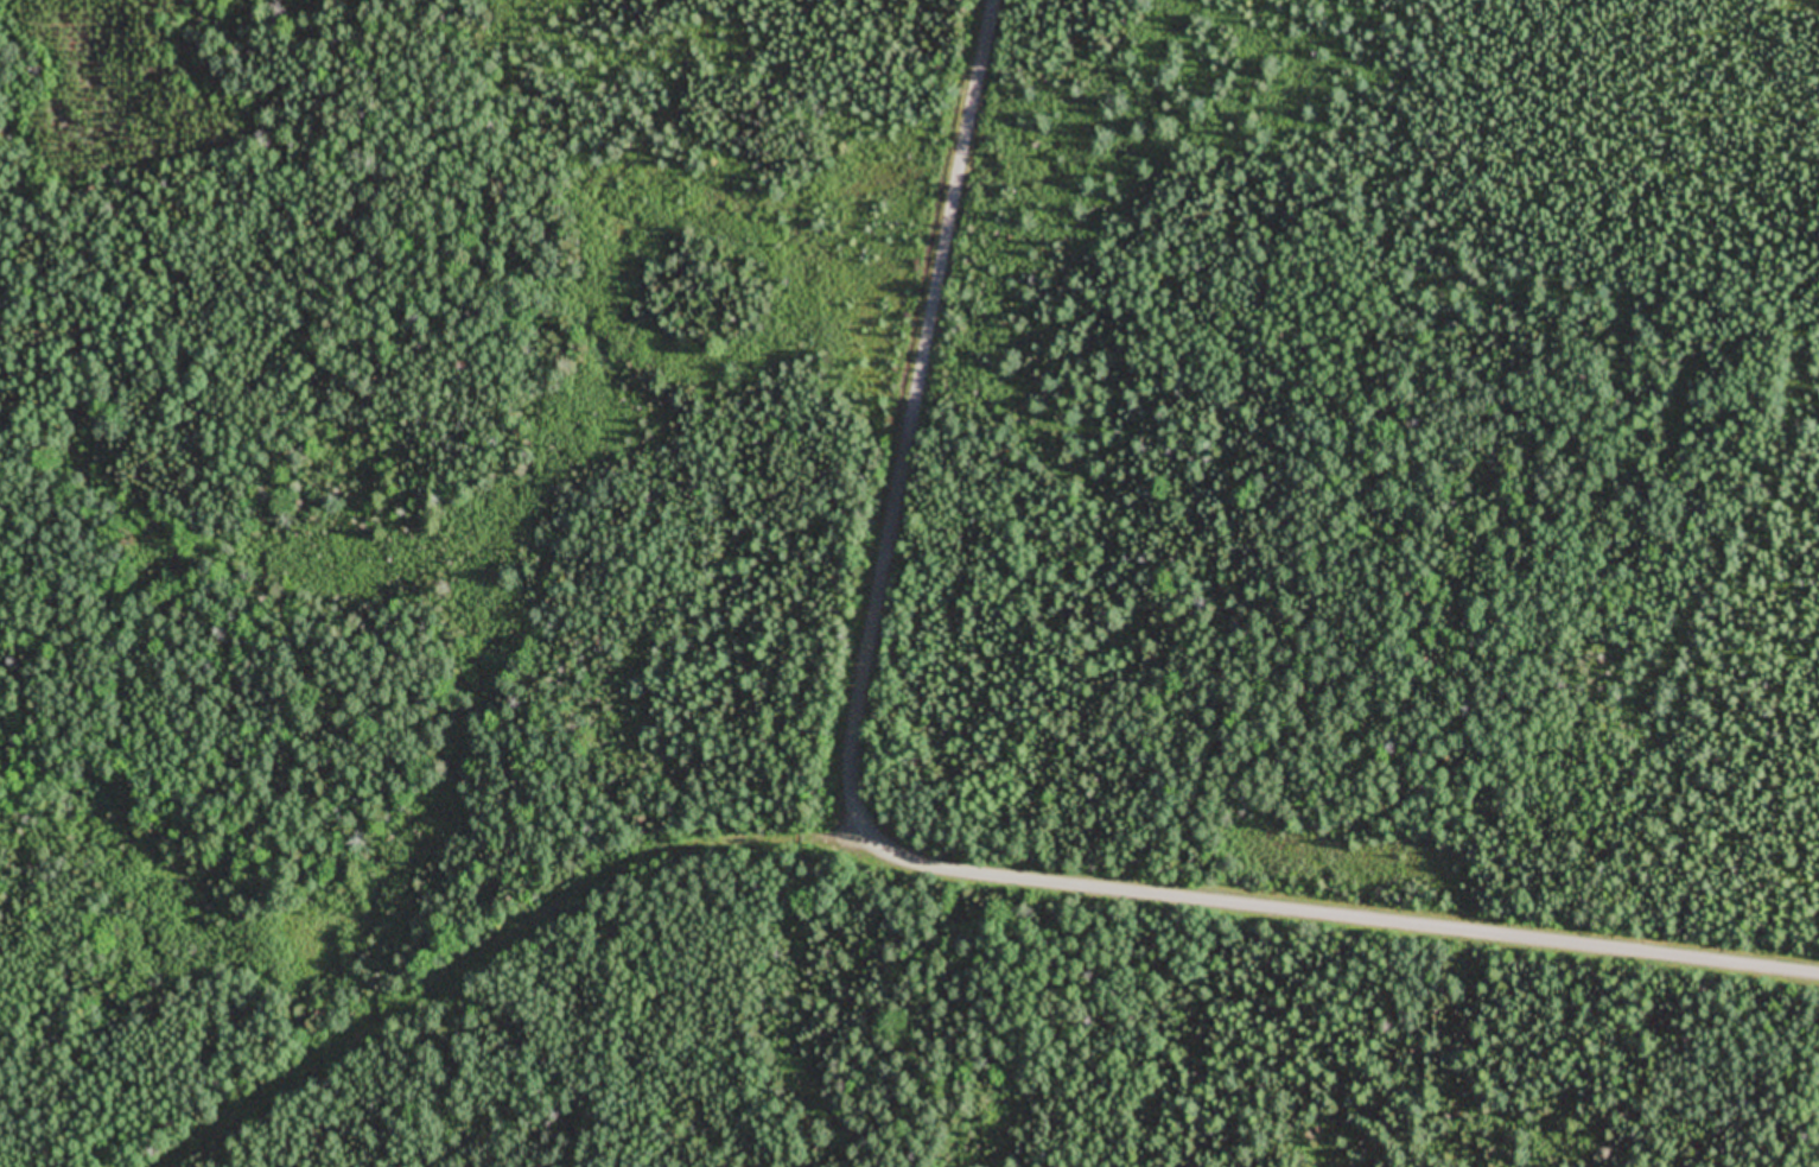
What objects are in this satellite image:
road: (915, 864)
road: (519, 947)

